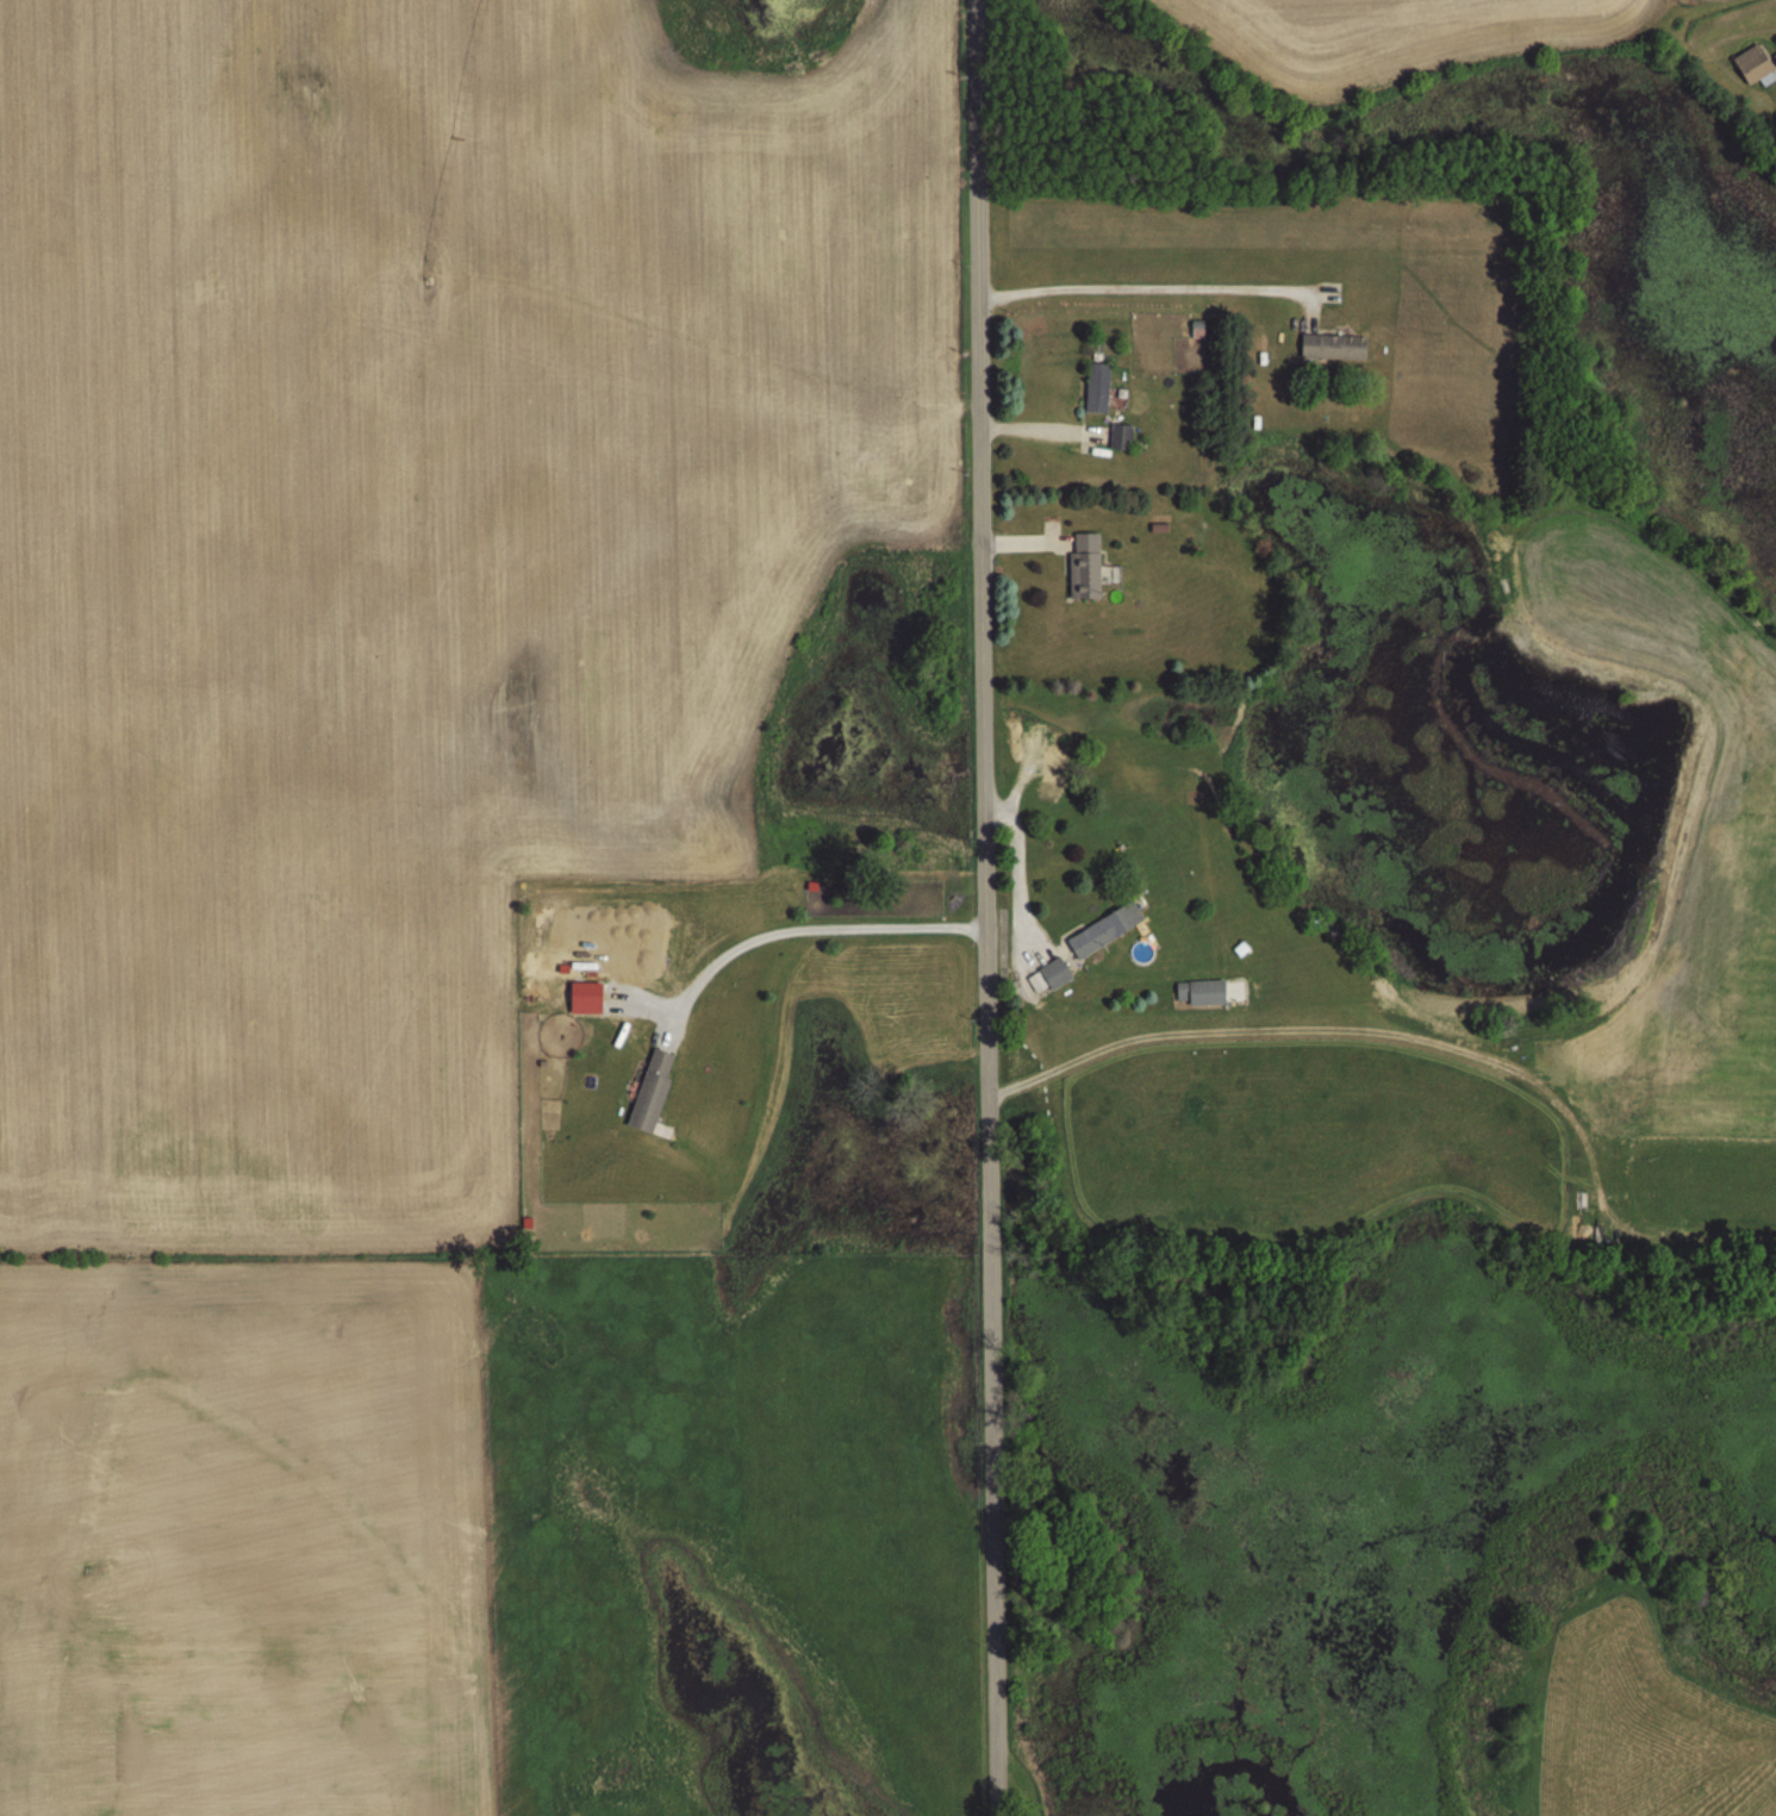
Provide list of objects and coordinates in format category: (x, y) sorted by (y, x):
building: (1775, 56)
building: (1753, 63)
building: (1331, 292)
building: (1334, 347)
building: (1098, 387)
building: (1121, 437)
building: (1084, 566)
road: (980, 907)
building: (1104, 930)
building: (1055, 973)
building: (1202, 992)
building: (652, 1091)
building: (1571, 1771)

